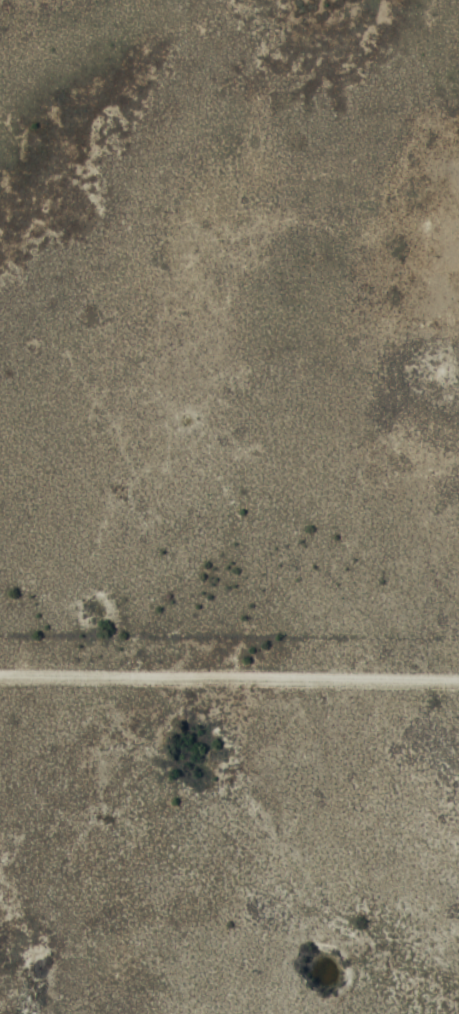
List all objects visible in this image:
road: (229, 669)

